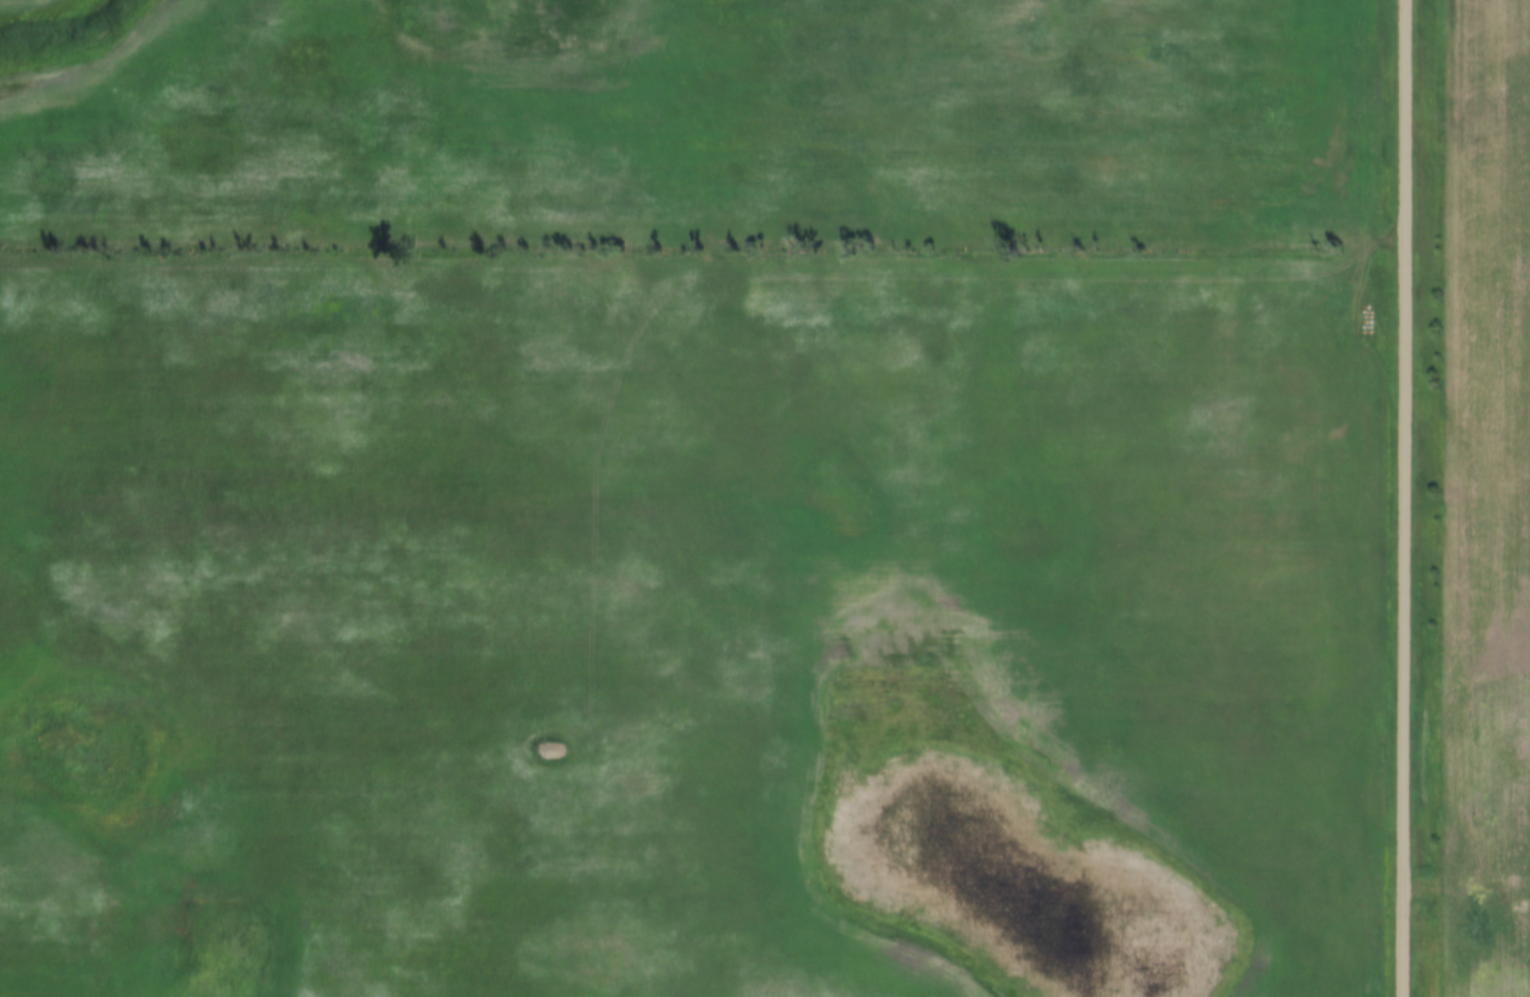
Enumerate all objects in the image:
road: (1407, 498)

